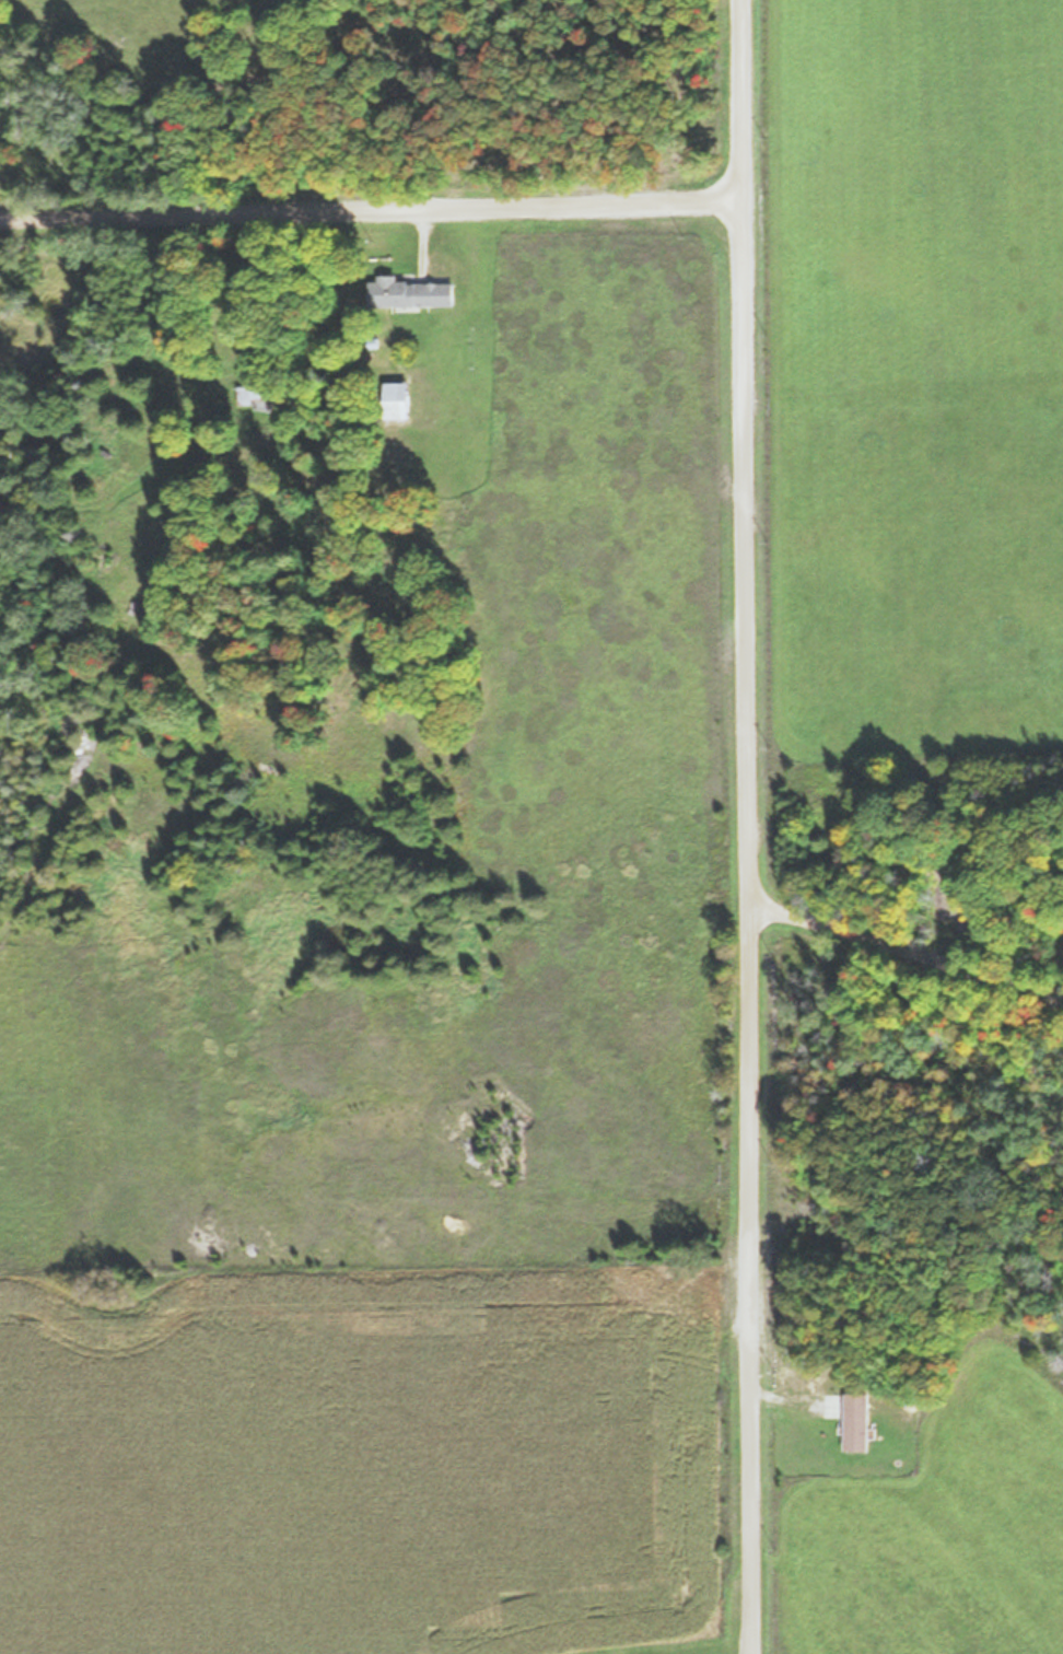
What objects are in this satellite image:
road: (371, 210)
building: (410, 293)
building: (253, 397)
building: (399, 399)
road: (745, 827)
road: (904, 952)
building: (858, 1423)

